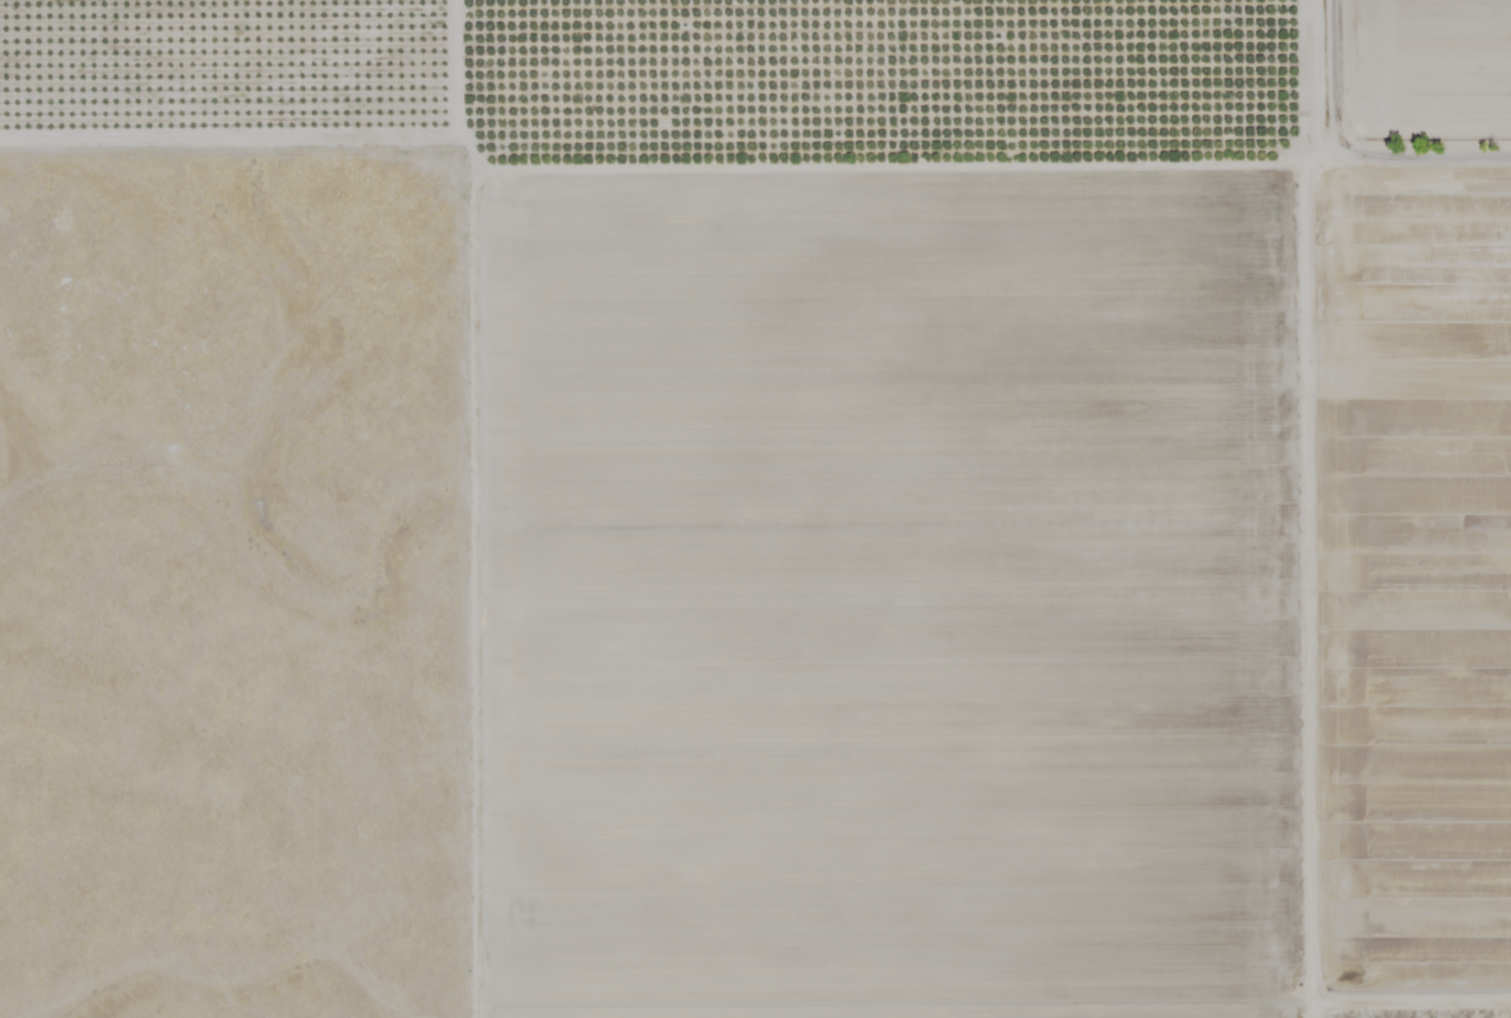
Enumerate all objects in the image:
road: (1314, 82)
road: (999, 165)
road: (488, 508)
road: (1327, 591)
road: (1424, 965)

